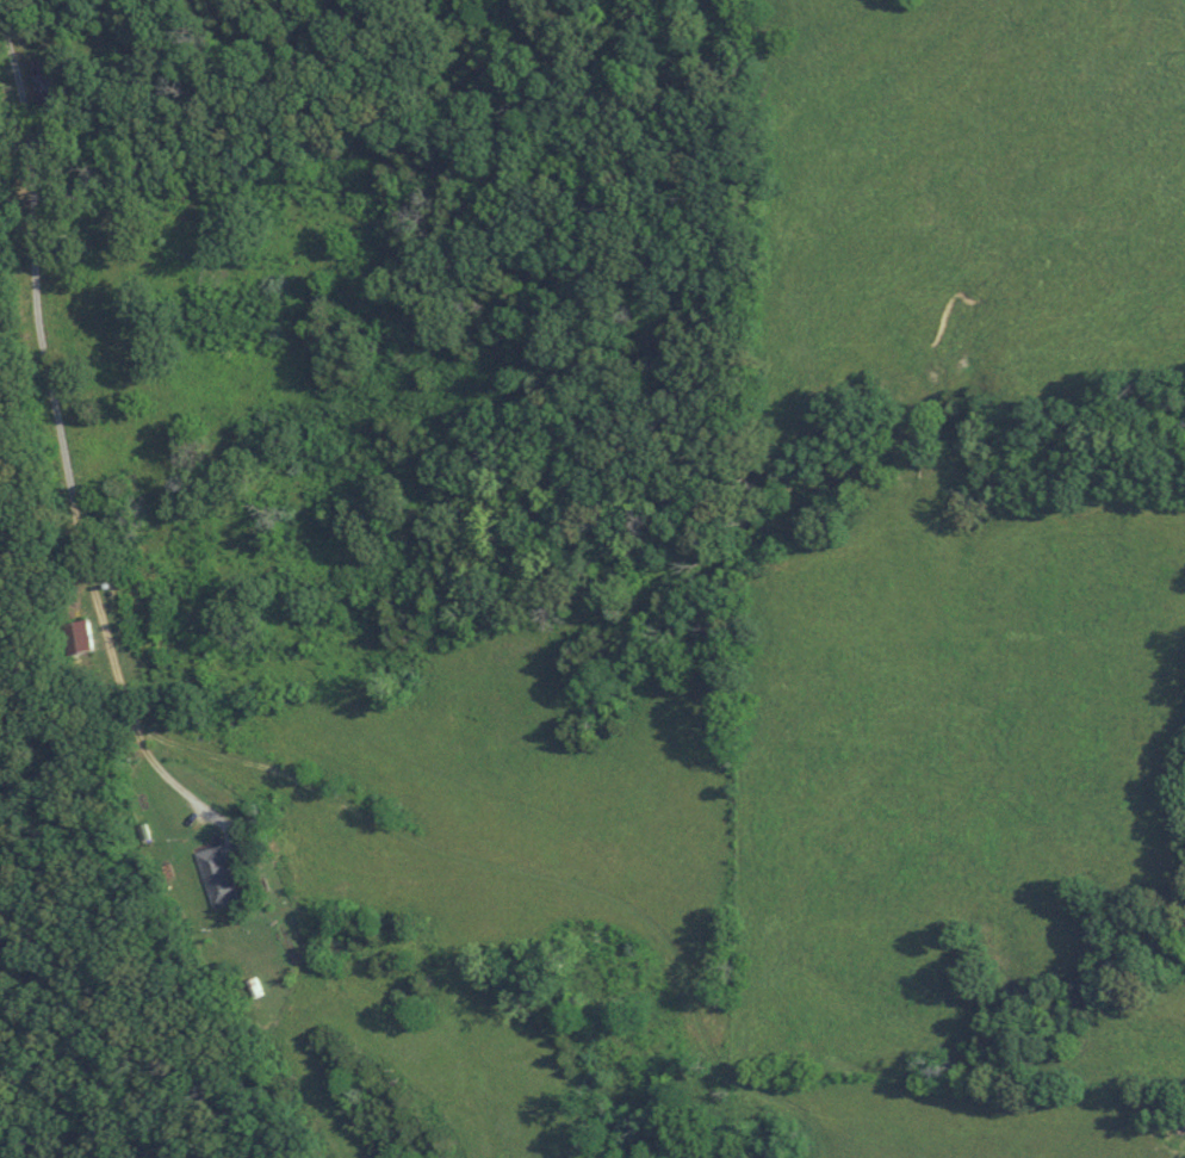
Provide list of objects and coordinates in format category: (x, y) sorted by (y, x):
building: (37, 83)
road: (56, 444)
building: (74, 637)
building: (212, 875)

